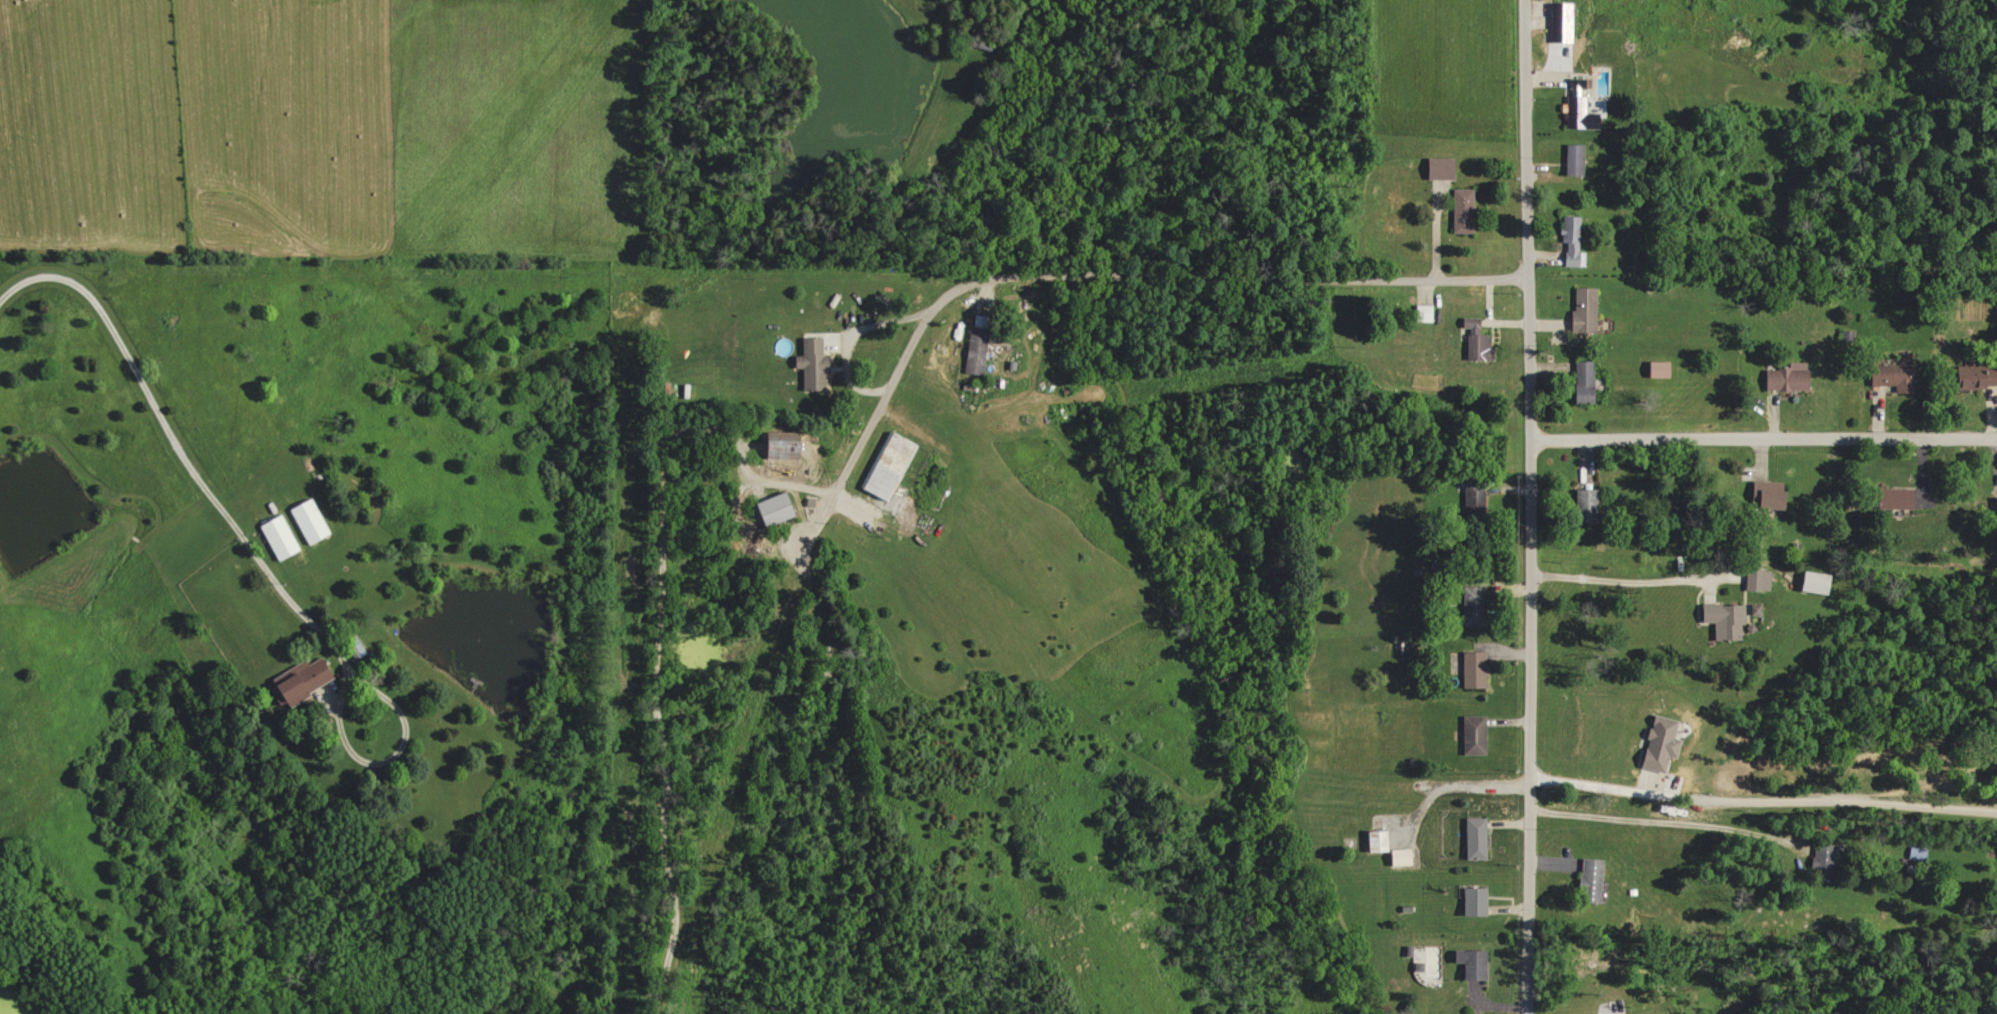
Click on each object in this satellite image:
building: (1558, 22)
building: (1576, 85)
building: (1577, 114)
building: (1572, 159)
building: (1437, 168)
building: (1461, 211)
building: (1570, 242)
building: (1581, 309)
building: (1421, 313)
road: (845, 339)
building: (1474, 340)
building: (974, 351)
building: (810, 365)
building: (1656, 369)
building: (1889, 376)
building: (1974, 377)
building: (1786, 378)
building: (1581, 382)
road: (1763, 439)
building: (888, 467)
road: (193, 471)
road: (838, 494)
building: (1763, 496)
building: (1889, 498)
building: (1583, 505)
road: (1528, 507)
building: (1996, 507)
building: (770, 510)
building: (306, 521)
building: (278, 537)
road: (1626, 580)
building: (1755, 580)
building: (1810, 582)
building: (1470, 606)
building: (1722, 621)
building: (1472, 670)
building: (298, 681)
building: (1472, 735)
building: (1657, 743)
road: (1453, 789)
road: (1759, 800)
road: (1670, 823)
building: (1472, 839)
building: (1374, 841)
building: (1399, 857)
building: (1821, 861)
building: (1587, 881)
building: (1472, 902)
building: (1468, 964)

